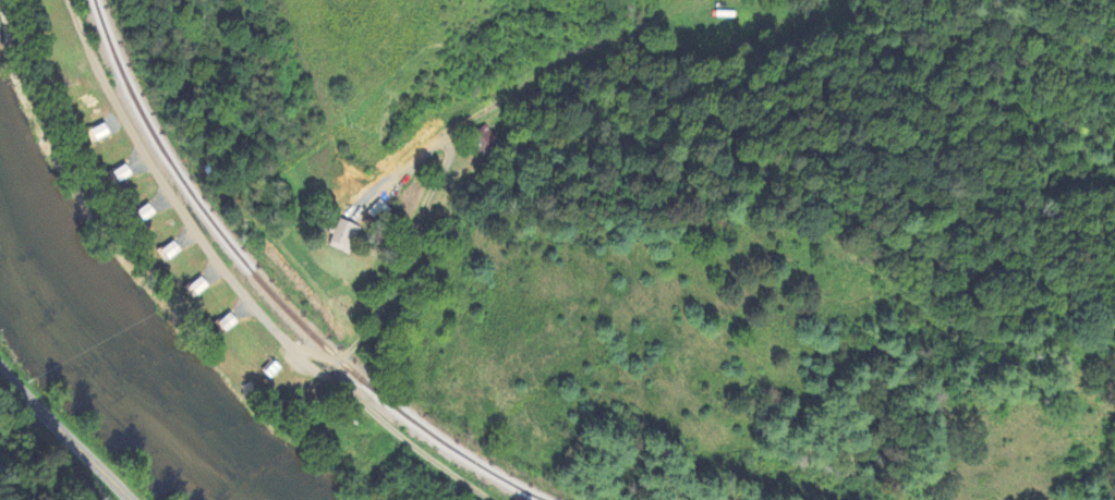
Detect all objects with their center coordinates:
road: (443, 166)
road: (414, 174)
building: (347, 235)
road: (235, 285)
building: (199, 288)
railway: (271, 292)
river: (132, 373)
road: (63, 434)

